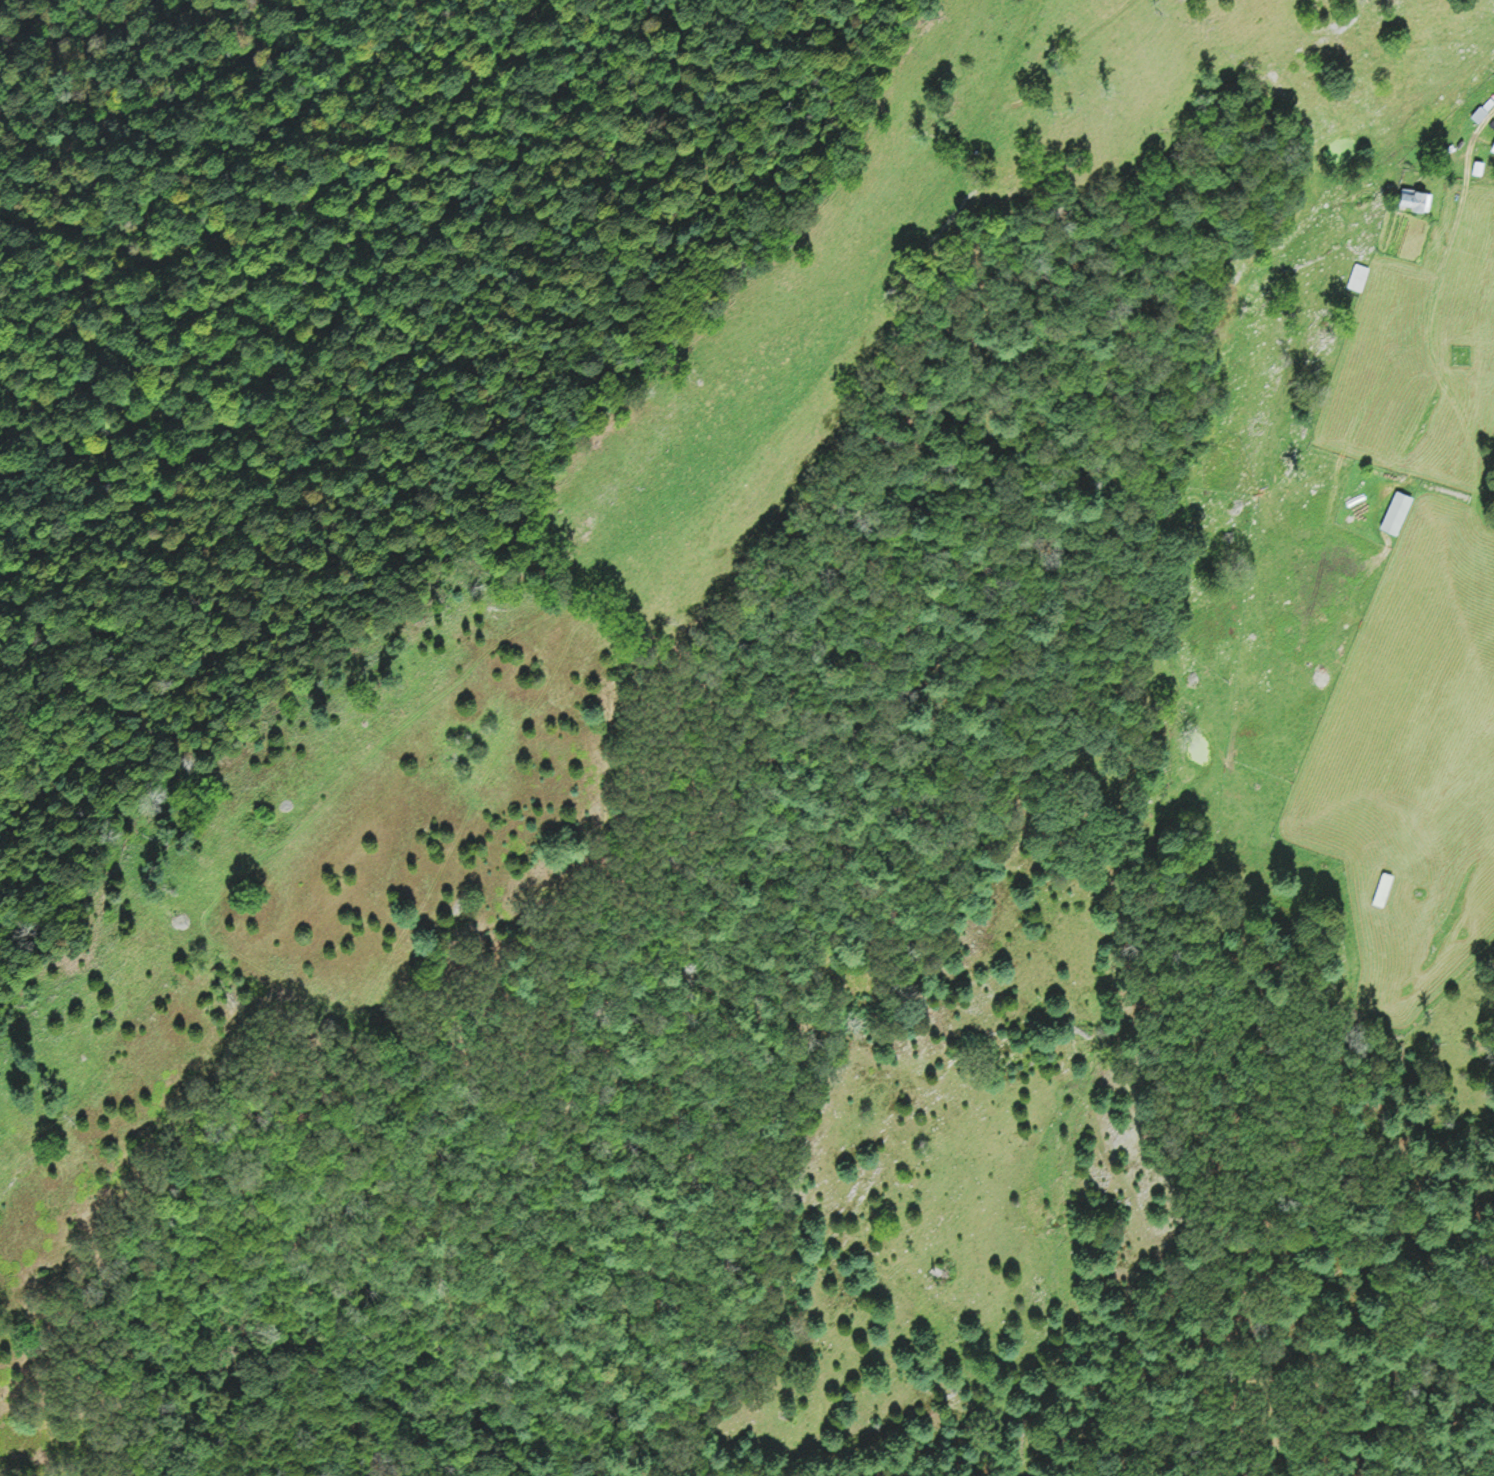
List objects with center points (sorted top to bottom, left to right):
building: (1489, 102)
building: (1492, 146)
building: (1478, 166)
building: (1415, 198)
building: (1359, 277)
road: (1347, 443)
building: (1392, 505)

